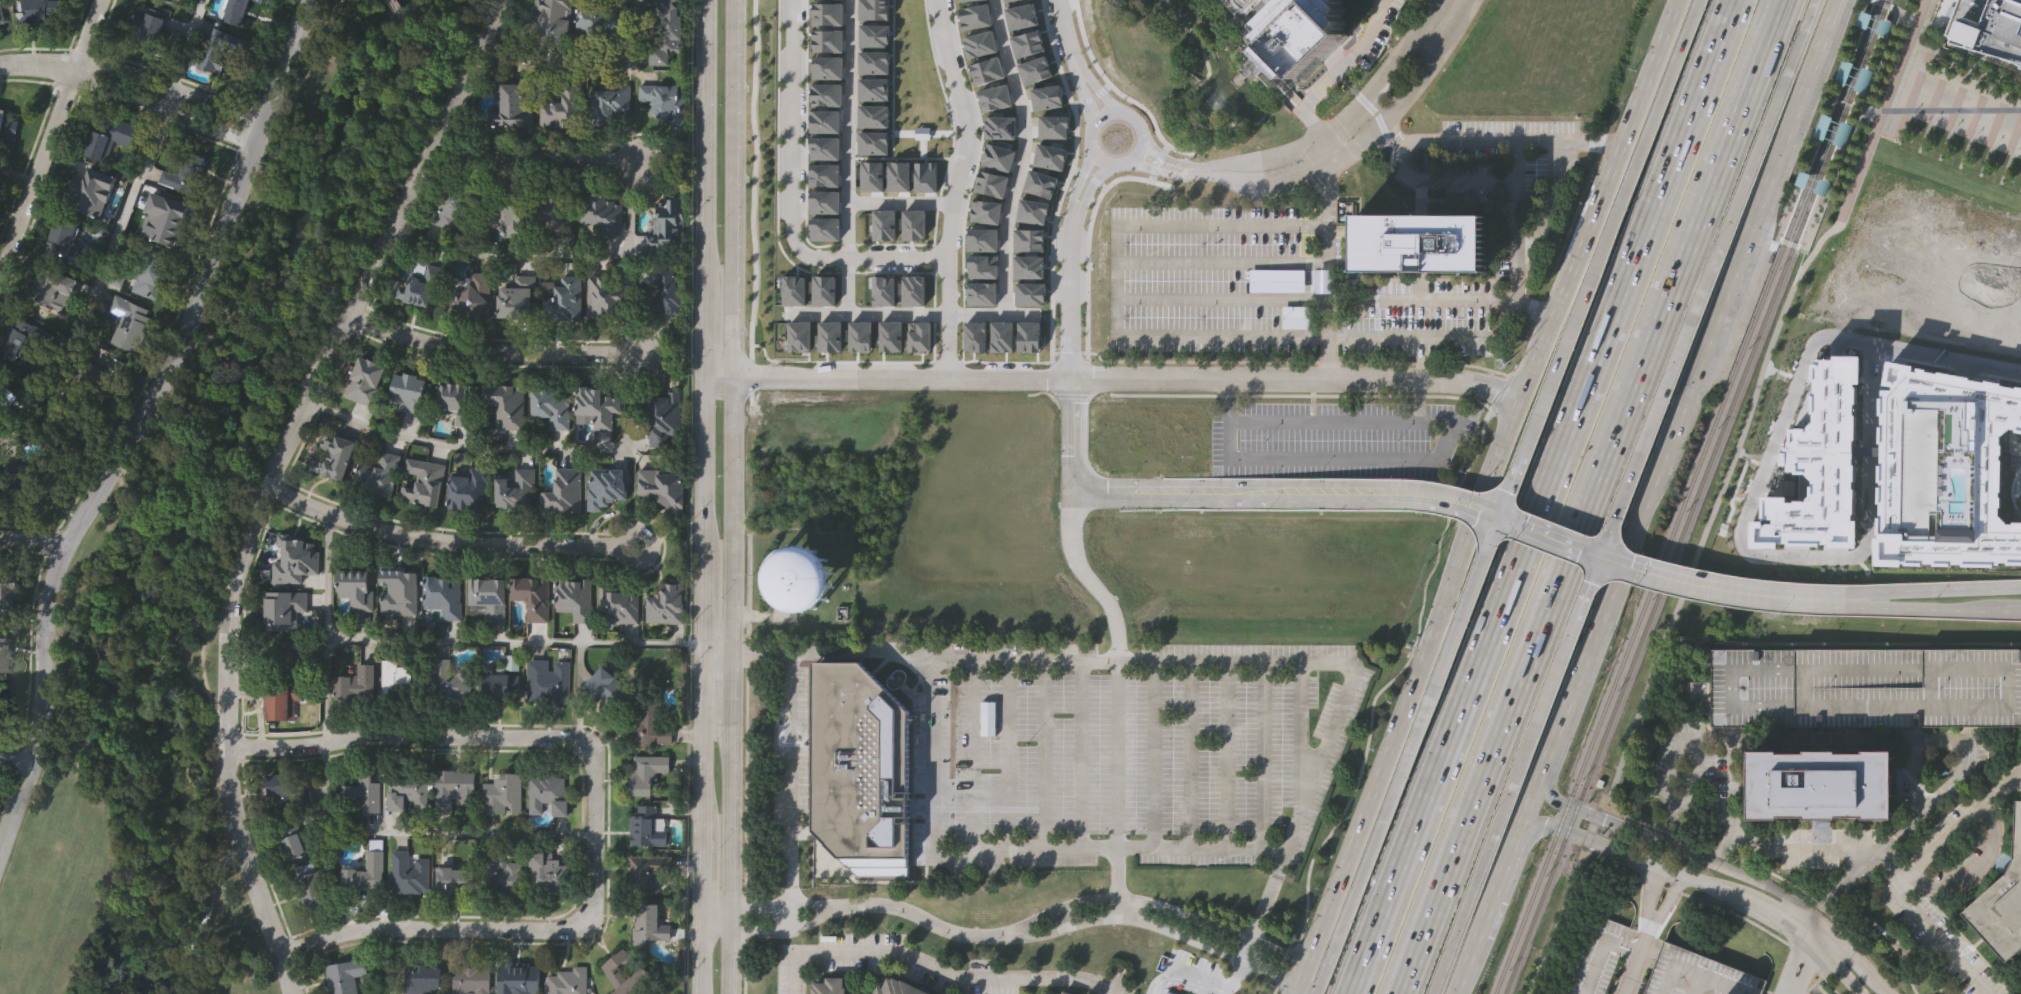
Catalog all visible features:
road: (392, 2)
building: (1237, 4)
parking garage: (1237, 4)
railway: (1859, 8)
building: (874, 9)
building: (39, 11)
building: (233, 11)
building: (828, 14)
building: (974, 15)
railway: (1880, 18)
building: (554, 19)
building: (595, 20)
building: (0, 23)
building: (1989, 25)
building: (149, 27)
road: (409, 29)
building: (667, 32)
building: (1298, 32)
building: (875, 36)
road: (1070, 36)
building: (828, 41)
building: (981, 44)
building: (220, 47)
road: (583, 58)
building: (874, 61)
road: (35, 63)
building: (827, 68)
road: (309, 70)
building: (987, 71)
road: (1650, 71)
building: (1854, 77)
road: (1328, 80)
road: (167, 84)
building: (873, 88)
railway: (1843, 89)
building: (826, 93)
road: (1103, 93)
building: (995, 97)
building: (515, 100)
road: (1090, 100)
building: (610, 102)
building: (666, 102)
road: (403, 105)
building: (560, 106)
road: (159, 107)
road: (1952, 109)
building: (873, 114)
building: (824, 120)
road: (1100, 120)
road: (1141, 125)
building: (7, 127)
road: (47, 127)
road: (792, 127)
building: (1000, 127)
road: (972, 128)
road: (1393, 130)
building: (1834, 131)
building: (107, 134)
road: (1476, 138)
road: (1595, 139)
road: (1317, 140)
building: (873, 142)
building: (824, 146)
road: (849, 155)
road: (1025, 155)
road: (1102, 155)
road: (1334, 158)
road: (535, 161)
building: (823, 172)
building: (898, 175)
building: (925, 176)
road: (14, 177)
building: (992, 183)
building: (1040, 183)
building: (88, 185)
road: (708, 188)
road: (1736, 198)
railway: (1827, 198)
railway: (1827, 198)
road: (902, 199)
building: (823, 200)
road: (1079, 202)
building: (457, 205)
building: (510, 210)
building: (1032, 210)
building: (553, 211)
building: (601, 212)
building: (667, 222)
building: (155, 224)
building: (883, 224)
building: (914, 224)
road: (116, 228)
building: (824, 228)
road: (1327, 230)
road: (1607, 231)
building: (1028, 238)
building: (983, 240)
building: (64, 243)
building: (1420, 247)
road: (555, 257)
road: (1637, 257)
road: (877, 258)
road: (1681, 260)
building: (983, 266)
building: (1028, 266)
road: (1573, 269)
building: (148, 273)
road: (1119, 278)
parking lot: (1213, 281)
building: (1325, 284)
building: (422, 285)
building: (51, 287)
building: (793, 289)
building: (823, 290)
building: (913, 290)
building: (883, 291)
road: (1071, 291)
building: (665, 295)
building: (604, 296)
building: (470, 297)
building: (516, 299)
road: (1418, 300)
road: (2000, 300)
building: (564, 301)
road: (910, 312)
road: (950, 318)
building: (127, 321)
parking lot: (1417, 330)
building: (799, 336)
building: (829, 336)
building: (860, 336)
building: (890, 336)
road: (1432, 337)
building: (919, 338)
road: (1328, 338)
building: (18, 341)
road: (489, 352)
road: (1944, 358)
building: (107, 371)
road: (1427, 377)
road: (1016, 378)
building: (366, 380)
road: (1690, 385)
building: (408, 394)
building: (3, 395)
building: (457, 404)
building: (505, 407)
building: (549, 407)
building: (594, 408)
road: (141, 419)
building: (661, 419)
parking lot: (1338, 438)
road: (510, 449)
building: (333, 456)
road: (1432, 462)
road: (1072, 473)
building: (378, 475)
road: (1626, 476)
road: (268, 477)
building: (22, 481)
building: (662, 482)
building: (425, 483)
building: (608, 485)
building: (470, 486)
road: (240, 488)
building: (517, 488)
building: (565, 489)
road: (1506, 490)
road: (1329, 493)
road: (1719, 495)
road: (731, 496)
railway: (1688, 514)
traffic signals: (1496, 517)
park: (207, 532)
road: (1546, 536)
road: (33, 539)
road: (444, 540)
road: (1763, 545)
traffic signals: (1596, 556)
building: (294, 562)
building: (801, 579)
water tower: (801, 580)
railway: (1651, 585)
building: (355, 588)
building: (398, 588)
road: (1584, 588)
road: (1718, 590)
road: (1932, 590)
building: (7, 593)
building: (442, 594)
building: (532, 595)
building: (574, 595)
building: (488, 596)
street lamp: (1933, 599)
building: (664, 602)
building: (619, 605)
building: (283, 609)
road: (1923, 609)
road: (2012, 610)
road: (326, 629)
road: (528, 641)
road: (833, 649)
building: (289, 654)
building: (4, 655)
road: (1020, 661)
road: (1328, 662)
building: (398, 676)
building: (451, 680)
building: (500, 681)
building: (354, 682)
building: (548, 682)
road: (703, 684)
building: (1866, 685)
parking garage: (1866, 685)
building: (606, 686)
road: (1109, 690)
building: (0, 692)
road: (578, 692)
road: (1410, 695)
building: (280, 700)
building: (651, 719)
road: (1712, 737)
road: (1293, 746)
parking lot: (1138, 751)
road: (1407, 751)
road: (1445, 753)
road: (1471, 753)
road: (1002, 755)
road: (1038, 755)
road: (1074, 755)
road: (1183, 755)
road: (1220, 755)
road: (1256, 755)
road: (1458, 755)
road: (1147, 756)
road: (1492, 758)
road: (967, 759)
road: (12, 763)
building: (858, 767)
building: (647, 774)
road: (1732, 779)
road: (787, 781)
building: (1821, 782)
building: (406, 788)
building: (454, 788)
building: (284, 791)
building: (363, 791)
building: (502, 792)
building: (548, 792)
road: (1937, 794)
road: (1502, 807)
road: (593, 810)
building: (649, 824)
road: (1956, 828)
road: (420, 831)
building: (292, 838)
road: (1784, 849)
road: (1013, 850)
road: (1637, 859)
road: (1968, 865)
road: (1724, 866)
building: (649, 869)
building: (408, 873)
building: (500, 873)
building: (364, 874)
building: (546, 874)
road: (1667, 874)
road: (1775, 874)
building: (461, 878)
road: (1893, 880)
road: (1499, 882)
building: (314, 889)
road: (1648, 892)
building: (2002, 897)
road: (1664, 900)
road: (1160, 904)
road: (1257, 905)
road: (1716, 905)
road: (824, 910)
road: (717, 911)
road: (1781, 915)
building: (649, 921)
road: (1160, 926)
road: (962, 937)
road: (1633, 956)
road: (380, 960)
road: (1840, 961)
road: (1797, 964)
road: (934, 970)
building: (627, 972)
road: (1923, 972)
building: (345, 975)
road: (1696, 975)
building: (1698, 975)
road: (1231, 976)
building: (420, 977)
building: (471, 978)
building: (519, 978)
road: (1180, 979)
building: (568, 980)
road: (1693, 985)
building: (827, 986)
building: (899, 987)
road: (1789, 988)
road: (1316, 989)
building: (1063, 992)

